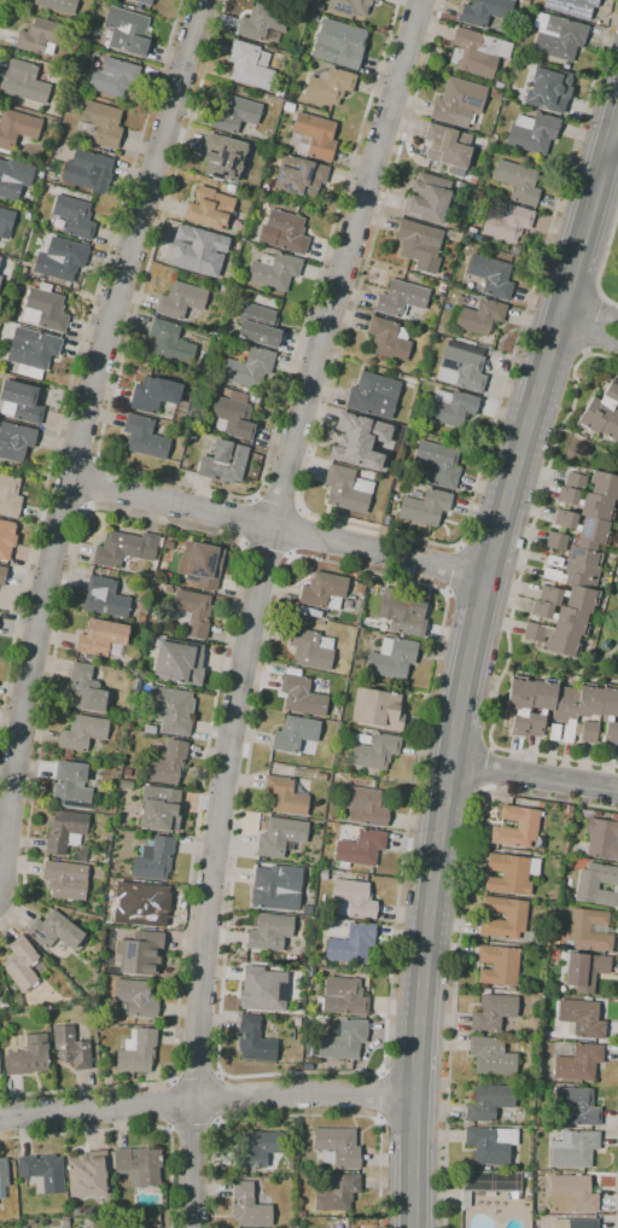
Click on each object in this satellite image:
building: (142, 1)
building: (58, 5)
building: (351, 5)
building: (578, 8)
building: (299, 11)
building: (484, 11)
road: (4, 13)
building: (261, 22)
building: (128, 30)
building: (41, 36)
building: (559, 39)
building: (338, 46)
building: (477, 53)
building: (250, 65)
building: (566, 66)
building: (113, 78)
building: (27, 82)
building: (497, 85)
building: (328, 86)
building: (547, 89)
building: (279, 91)
building: (496, 94)
building: (457, 103)
building: (288, 106)
building: (234, 115)
building: (101, 122)
building: (17, 132)
building: (532, 133)
building: (313, 138)
building: (491, 145)
building: (447, 150)
road: (612, 151)
building: (222, 157)
building: (84, 168)
building: (186, 168)
building: (13, 177)
building: (302, 179)
building: (472, 179)
building: (518, 182)
building: (229, 188)
building: (427, 199)
building: (209, 209)
building: (74, 217)
building: (506, 220)
building: (5, 223)
building: (286, 232)
building: (451, 234)
building: (478, 239)
building: (418, 241)
building: (193, 252)
building: (62, 260)
road: (602, 261)
building: (422, 269)
building: (274, 270)
building: (24, 272)
building: (491, 275)
building: (444, 277)
building: (442, 287)
building: (400, 298)
building: (180, 301)
building: (45, 309)
road: (588, 314)
building: (478, 316)
building: (4, 324)
building: (257, 326)
road: (588, 330)
building: (389, 339)
building: (170, 343)
building: (31, 351)
road: (78, 360)
building: (461, 365)
building: (247, 368)
building: (243, 389)
building: (373, 395)
building: (153, 396)
building: (21, 402)
building: (451, 408)
building: (599, 409)
building: (232, 413)
building: (610, 426)
road: (78, 431)
building: (363, 435)
building: (144, 438)
building: (14, 443)
road: (76, 453)
building: (223, 462)
building: (438, 462)
building: (182, 464)
building: (386, 465)
building: (366, 466)
building: (576, 479)
road: (93, 482)
road: (196, 485)
building: (604, 485)
building: (346, 489)
building: (10, 496)
road: (66, 501)
road: (278, 502)
building: (587, 504)
building: (422, 505)
building: (377, 519)
road: (245, 522)
building: (583, 526)
road: (278, 529)
road: (296, 532)
building: (1, 535)
road: (396, 535)
road: (268, 543)
building: (555, 543)
building: (168, 545)
building: (124, 549)
road: (266, 551)
building: (583, 553)
road: (488, 558)
building: (202, 564)
road: (451, 569)
building: (571, 574)
building: (2, 575)
road: (281, 576)
building: (360, 589)
building: (168, 590)
building: (323, 592)
road: (515, 594)
road: (480, 595)
building: (105, 598)
building: (570, 598)
road: (233, 605)
building: (192, 613)
building: (401, 615)
building: (561, 618)
building: (140, 621)
building: (100, 638)
building: (553, 640)
building: (311, 650)
building: (391, 659)
road: (468, 662)
building: (177, 667)
building: (84, 691)
building: (302, 697)
building: (589, 700)
building: (519, 705)
building: (541, 705)
building: (171, 709)
building: (377, 709)
building: (610, 712)
building: (336, 714)
building: (564, 714)
road: (456, 729)
building: (148, 731)
building: (587, 732)
building: (82, 734)
building: (295, 734)
building: (375, 751)
building: (165, 764)
road: (488, 769)
building: (127, 773)
road: (534, 775)
building: (320, 776)
road: (448, 784)
building: (70, 786)
building: (121, 796)
building: (287, 796)
building: (156, 804)
building: (366, 807)
building: (596, 814)
building: (139, 825)
building: (517, 827)
building: (65, 832)
building: (280, 837)
building: (602, 838)
building: (540, 842)
building: (360, 849)
building: (80, 854)
building: (152, 859)
building: (322, 865)
building: (323, 874)
building: (511, 874)
building: (65, 880)
building: (596, 885)
building: (273, 892)
building: (305, 898)
building: (354, 900)
building: (145, 903)
building: (515, 915)
building: (588, 930)
building: (54, 931)
building: (269, 932)
road: (457, 941)
building: (351, 943)
building: (141, 954)
building: (256, 958)
building: (21, 964)
building: (497, 965)
building: (583, 971)
building: (511, 989)
building: (260, 993)
building: (343, 997)
building: (134, 1000)
building: (17, 1002)
building: (4, 1003)
building: (298, 1005)
building: (492, 1012)
building: (582, 1018)
building: (297, 1022)
building: (343, 1041)
building: (255, 1042)
building: (70, 1048)
building: (136, 1052)
building: (28, 1057)
building: (491, 1057)
building: (578, 1063)
building: (0, 1065)
road: (218, 1075)
road: (194, 1077)
road: (171, 1079)
road: (379, 1096)
road: (216, 1098)
road: (171, 1102)
building: (489, 1102)
road: (206, 1104)
building: (576, 1106)
road: (299, 1116)
road: (192, 1122)
road: (217, 1122)
road: (133, 1128)
road: (169, 1128)
building: (490, 1145)
building: (338, 1147)
building: (255, 1150)
building: (573, 1150)
building: (326, 1157)
building: (138, 1163)
road: (197, 1165)
building: (43, 1172)
building: (241, 1174)
building: (84, 1175)
building: (526, 1175)
building: (2, 1176)
building: (489, 1185)
building: (527, 1187)
building: (336, 1192)
building: (571, 1194)
road: (616, 1197)
building: (249, 1207)
building: (301, 1214)
building: (65, 1223)
building: (575, 1223)

